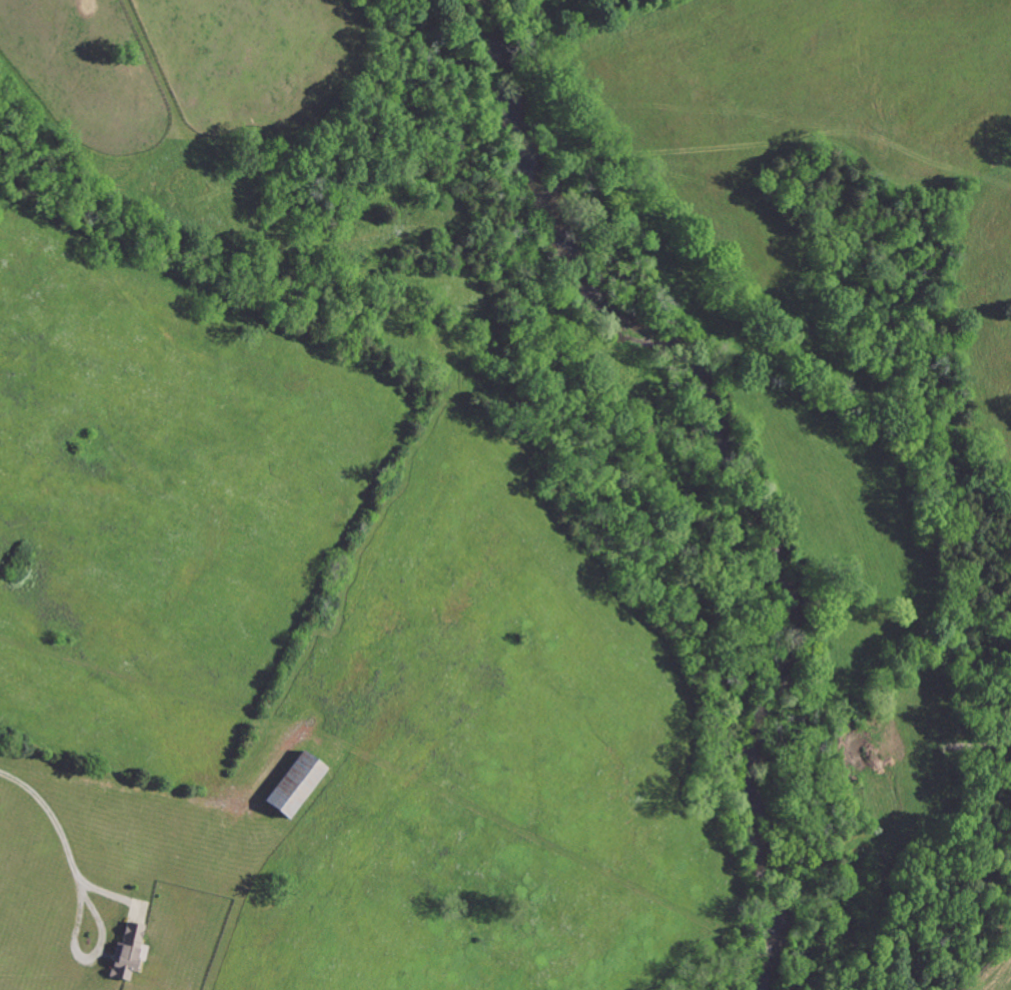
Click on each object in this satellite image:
building: (294, 784)
road: (64, 842)
building: (128, 952)

